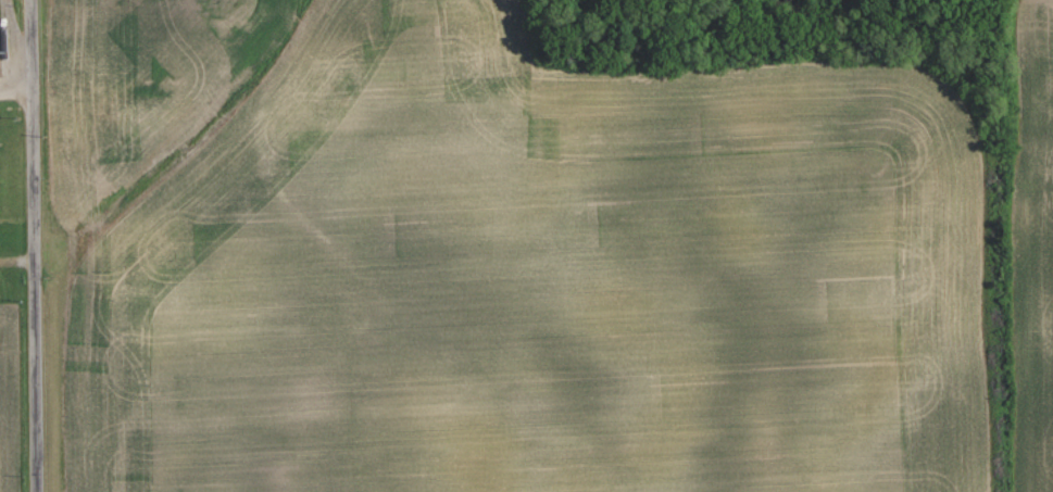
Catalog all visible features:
road: (13, 45)
road: (16, 89)
road: (35, 245)

